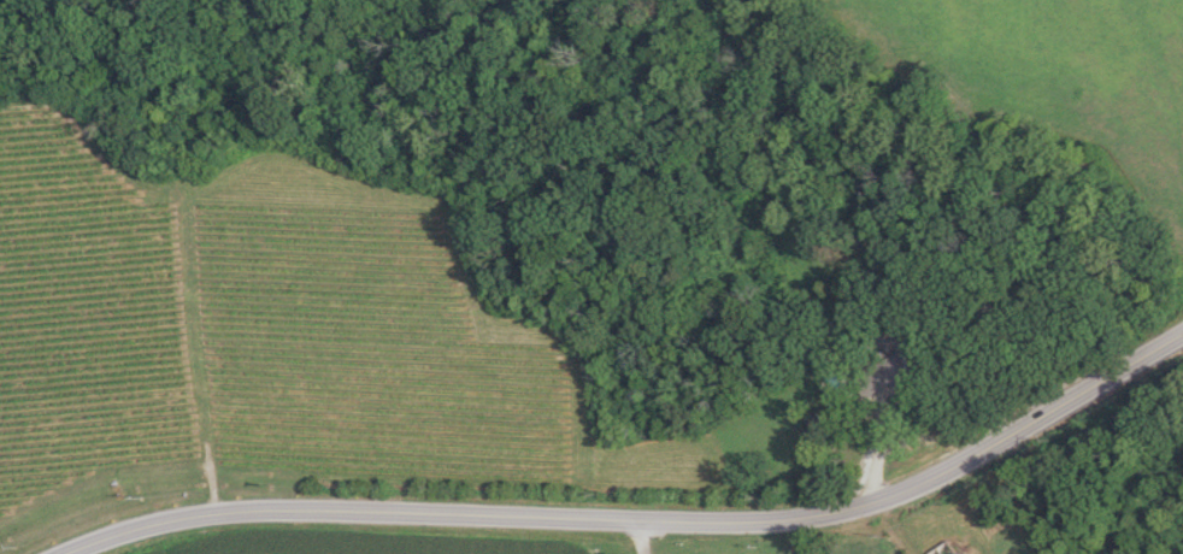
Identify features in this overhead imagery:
building: (887, 376)
road: (1093, 387)
road: (540, 515)
road: (634, 536)
building: (947, 549)

